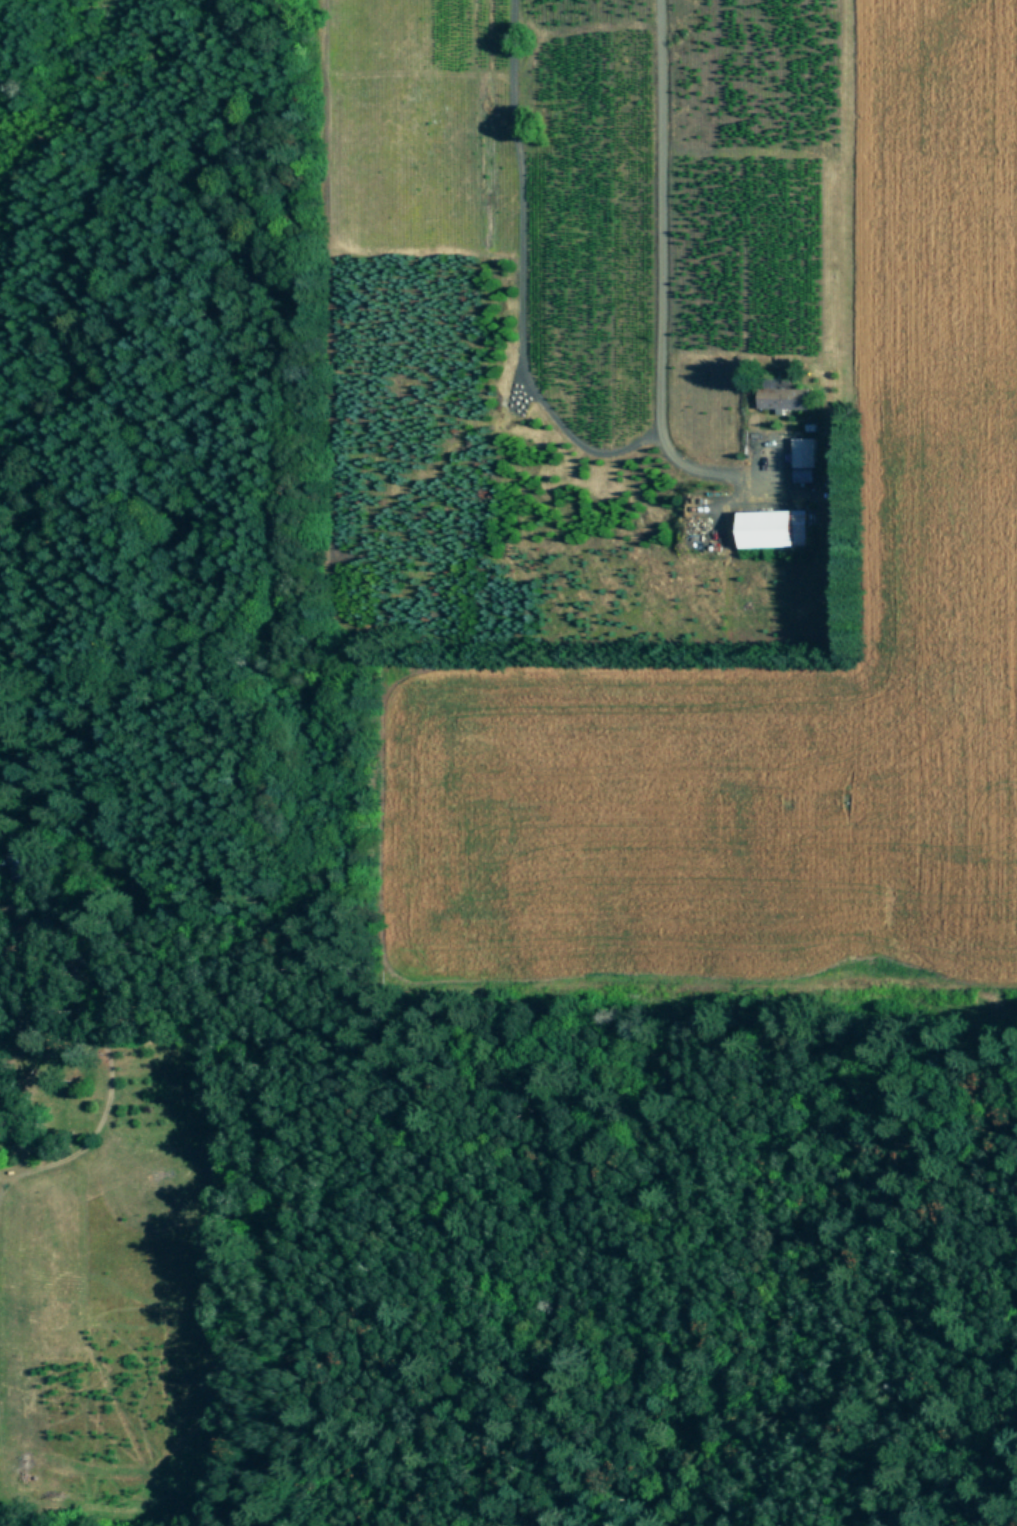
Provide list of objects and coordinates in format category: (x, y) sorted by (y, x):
road: (513, 277)
road: (656, 283)
building: (786, 396)
building: (773, 528)
road: (84, 841)
building: (35, 864)

